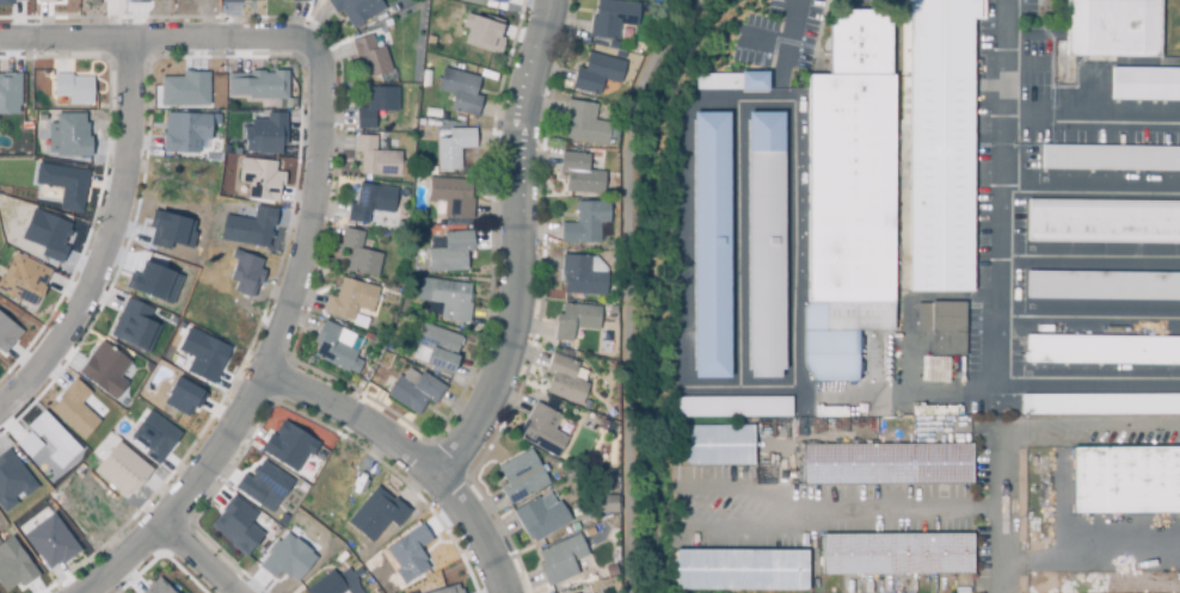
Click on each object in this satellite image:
building: (231, 0)
building: (500, 0)
building: (93, 1)
building: (135, 1)
building: (300, 1)
building: (479, 1)
building: (4, 2)
building: (355, 8)
building: (613, 19)
building: (1113, 27)
building: (484, 33)
road: (160, 42)
road: (766, 45)
road: (786, 50)
building: (371, 56)
road: (1022, 64)
building: (597, 74)
building: (731, 80)
building: (258, 85)
building: (1145, 85)
building: (72, 88)
building: (182, 88)
building: (461, 91)
building: (7, 94)
building: (376, 106)
building: (585, 123)
road: (1088, 124)
building: (182, 131)
building: (263, 132)
building: (69, 136)
building: (454, 148)
building: (1111, 157)
building: (376, 159)
building: (580, 174)
building: (886, 175)
building: (259, 178)
building: (61, 183)
road: (1088, 193)
building: (453, 197)
building: (371, 203)
building: (1104, 221)
building: (584, 227)
building: (245, 228)
building: (164, 229)
building: (43, 234)
building: (763, 242)
building: (709, 243)
road: (737, 246)
road: (111, 247)
road: (522, 247)
building: (451, 253)
building: (359, 254)
road: (1088, 259)
building: (244, 273)
building: (584, 276)
building: (23, 277)
building: (152, 282)
road: (621, 285)
road: (995, 286)
building: (1102, 286)
building: (351, 299)
building: (450, 299)
road: (1087, 315)
building: (576, 321)
building: (134, 326)
building: (944, 328)
building: (6, 332)
building: (334, 347)
building: (436, 348)
road: (908, 350)
building: (1104, 350)
building: (199, 354)
road: (271, 354)
building: (102, 369)
building: (566, 377)
road: (699, 390)
building: (416, 393)
building: (178, 395)
building: (1101, 404)
building: (731, 406)
building: (72, 409)
building: (539, 426)
road: (1090, 426)
building: (152, 434)
building: (50, 439)
building: (26, 444)
building: (715, 445)
building: (288, 446)
road: (411, 456)
building: (887, 464)
building: (118, 468)
building: (520, 476)
building: (10, 480)
building: (1126, 481)
building: (263, 482)
road: (719, 490)
building: (607, 504)
road: (844, 508)
road: (1003, 508)
building: (374, 513)
building: (541, 517)
building: (233, 525)
building: (557, 535)
building: (48, 541)
building: (406, 554)
building: (897, 554)
building: (283, 558)
building: (561, 560)
road: (1092, 560)
road: (197, 562)
building: (11, 566)
building: (740, 569)
building: (611, 570)
building: (324, 585)
building: (155, 587)
building: (441, 591)
building: (454, 592)

